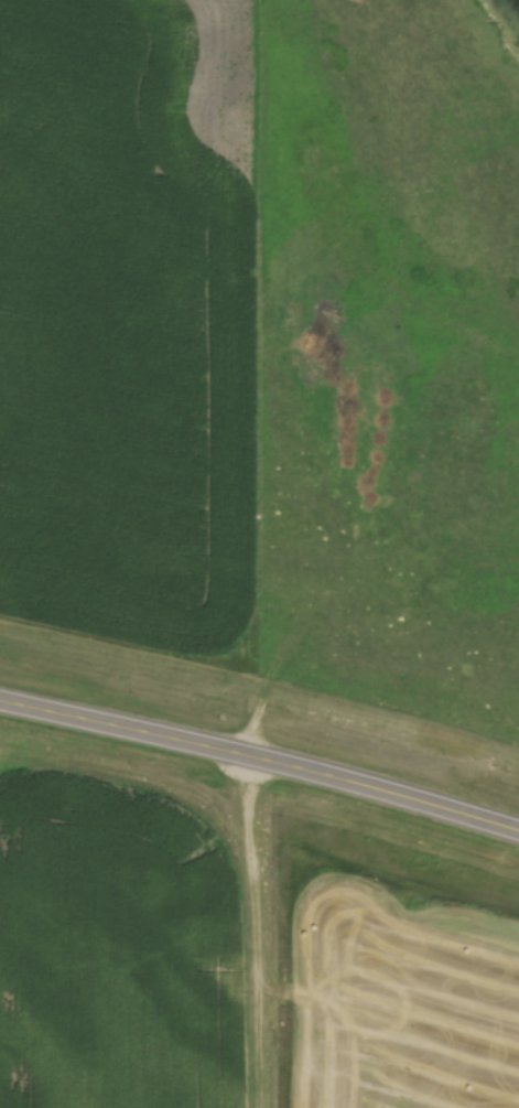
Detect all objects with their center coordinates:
road: (261, 761)
road: (255, 933)

